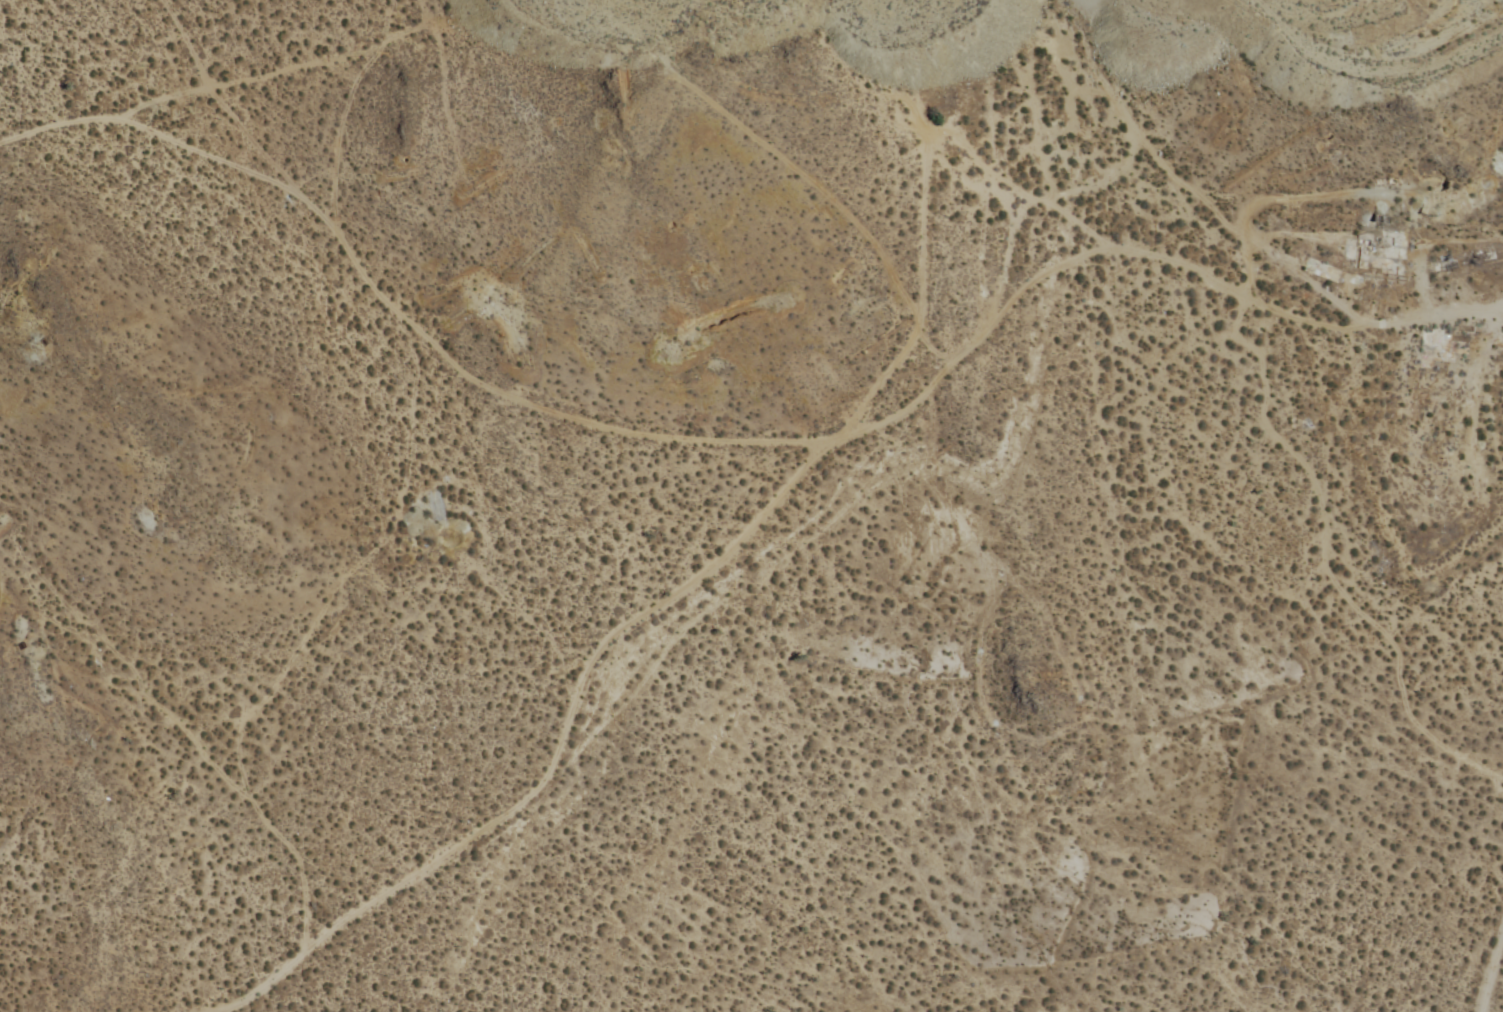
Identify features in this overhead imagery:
road: (736, 444)

